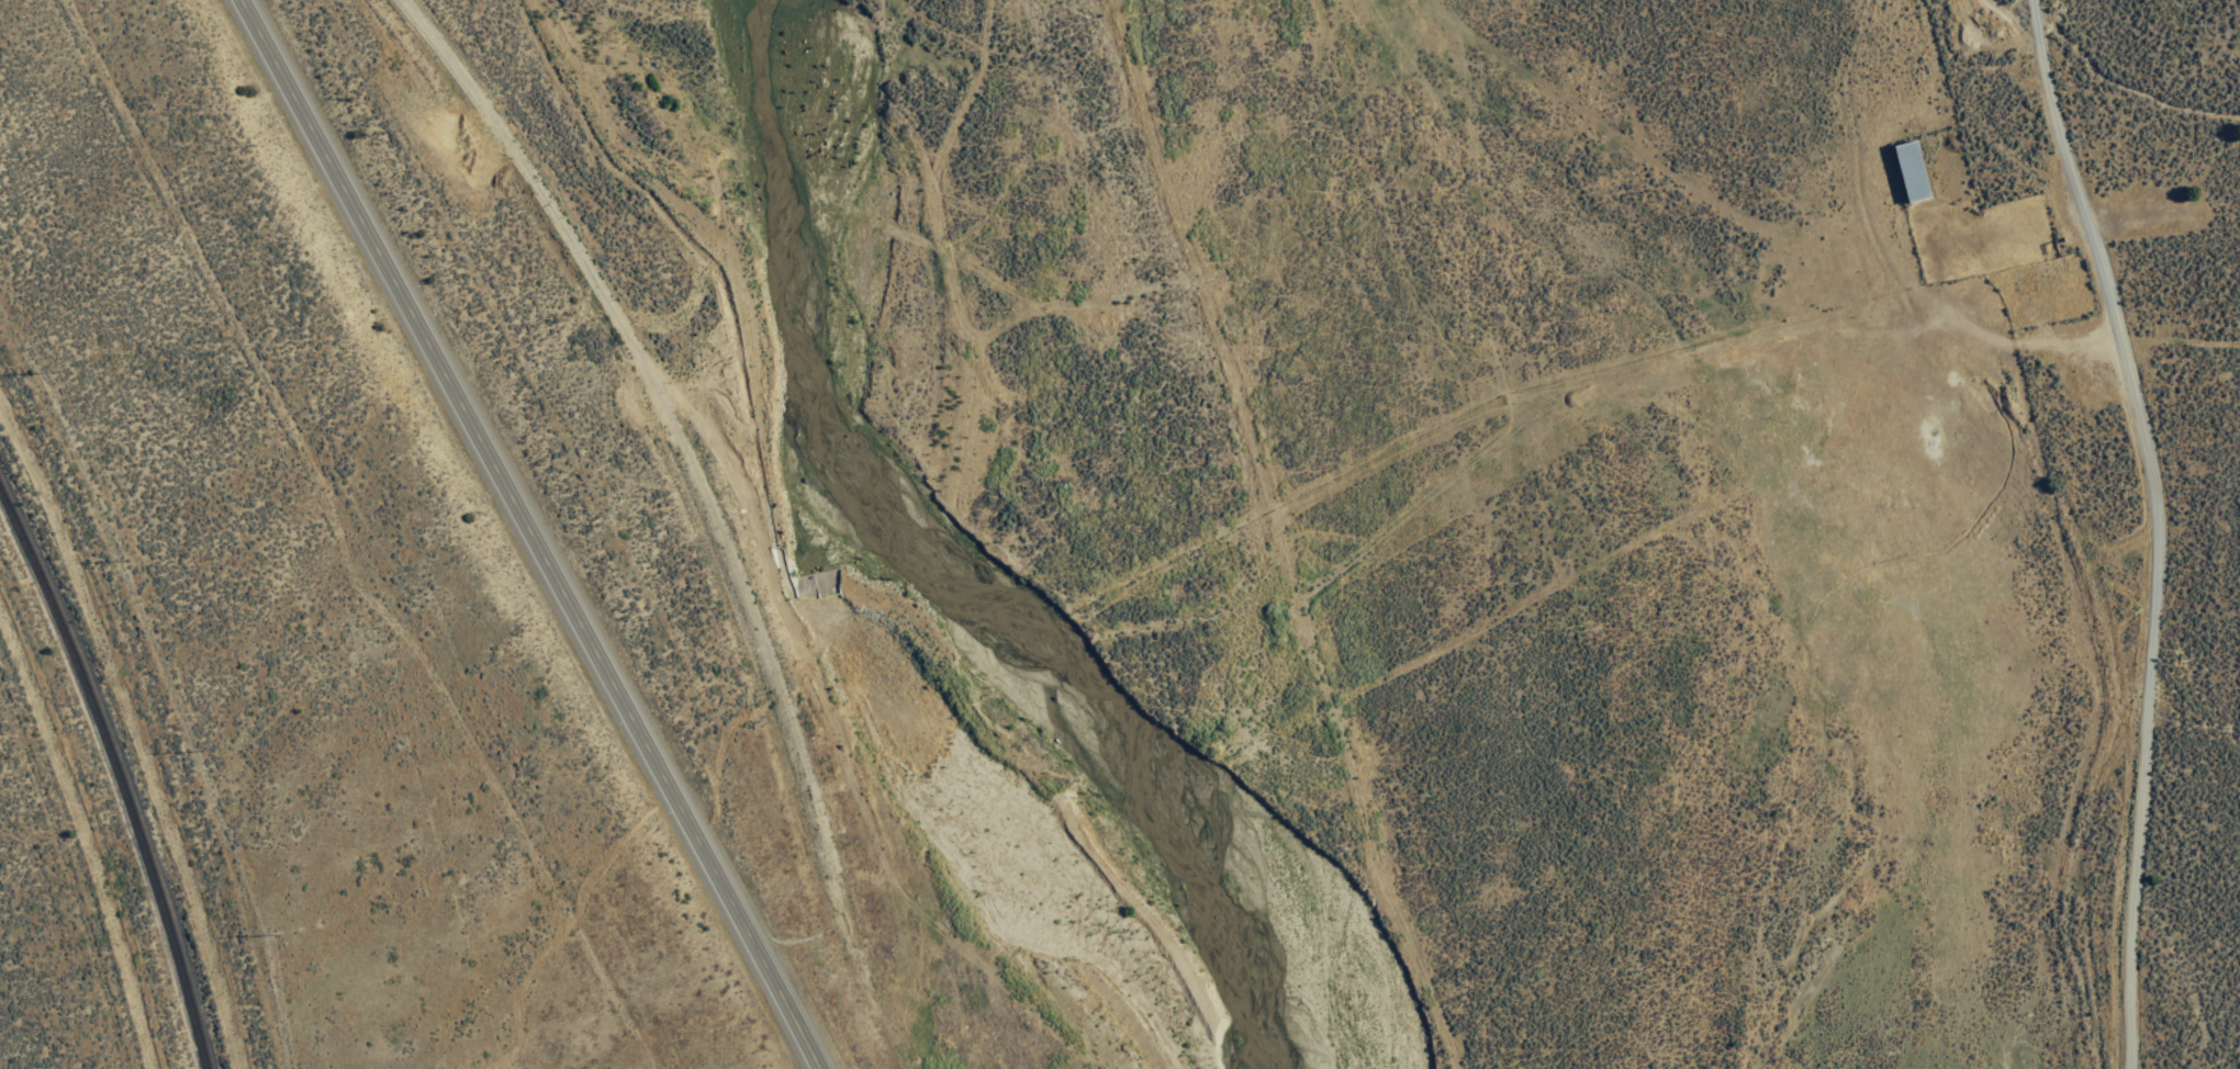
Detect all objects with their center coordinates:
road: (2184, 338)
road: (2163, 527)
road: (527, 533)
railway: (115, 775)

